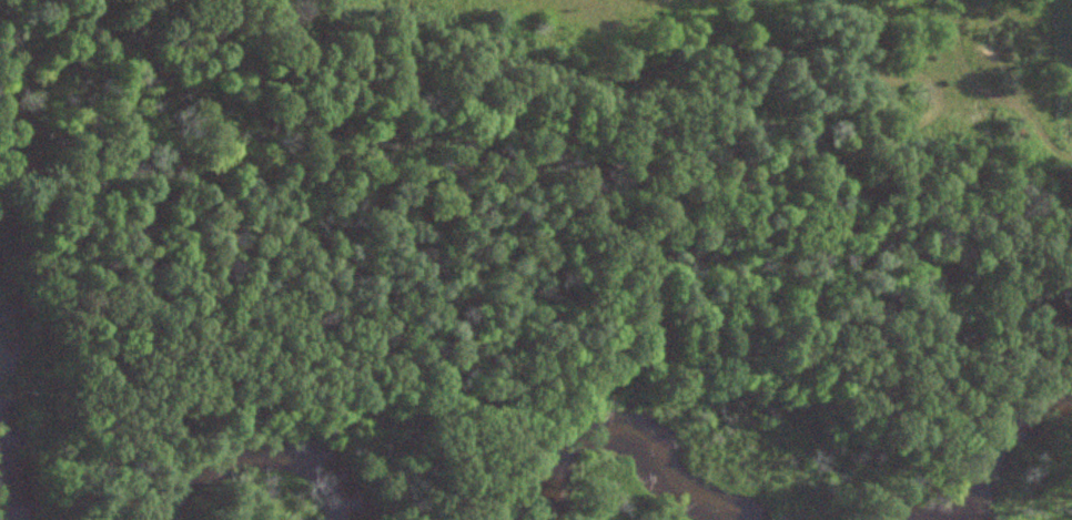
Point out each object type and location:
river: (1, 426)
river: (620, 432)
river: (264, 459)
river: (1017, 466)

